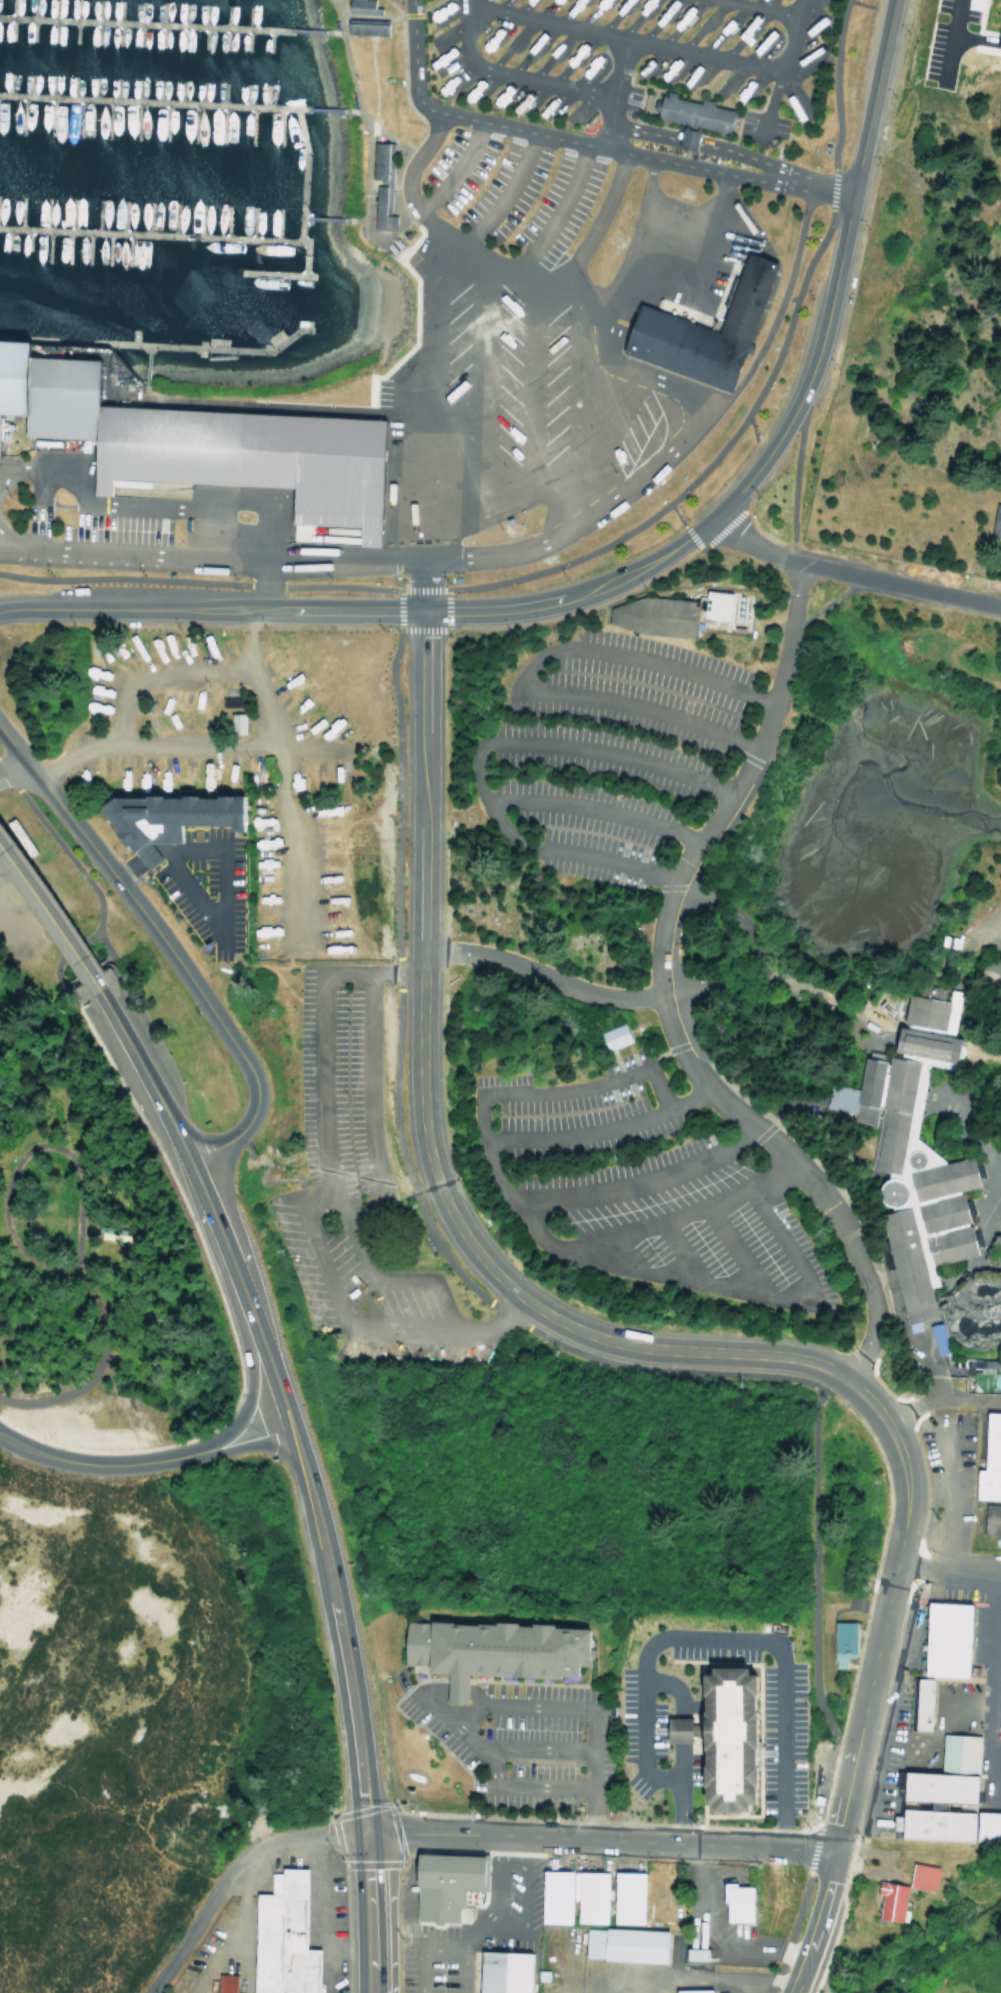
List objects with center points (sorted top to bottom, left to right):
parking lot: (408, 5)
building: (357, 6)
road: (757, 7)
road: (540, 22)
pier: (142, 23)
building: (362, 26)
building: (996, 30)
road: (311, 31)
road: (990, 32)
road: (946, 38)
parking lot: (942, 43)
road: (707, 56)
road: (508, 73)
road: (352, 91)
pier: (146, 100)
road: (324, 109)
building: (688, 114)
road: (611, 123)
road: (642, 129)
building: (682, 138)
road: (581, 142)
road: (738, 153)
road: (455, 169)
building: (378, 183)
road: (504, 192)
road: (418, 208)
road: (553, 213)
road: (330, 219)
road: (362, 230)
pier: (215, 236)
road: (638, 238)
pier: (304, 253)
road: (703, 258)
road: (565, 272)
pier: (274, 274)
building: (749, 297)
pier: (131, 337)
road: (427, 342)
pier: (205, 346)
building: (685, 348)
parking lot: (500, 359)
road: (477, 361)
road: (143, 371)
building: (9, 373)
road: (531, 382)
road: (602, 392)
building: (54, 396)
road: (278, 407)
building: (157, 447)
building: (259, 450)
road: (493, 462)
road: (40, 471)
road: (5, 473)
building: (333, 474)
building: (996, 520)
road: (611, 541)
road: (5, 544)
road: (488, 554)
road: (638, 568)
road: (851, 574)
road: (264, 585)
building: (713, 605)
road: (530, 667)
road: (269, 716)
building: (232, 722)
road: (179, 736)
road: (11, 746)
road: (478, 752)
parking lot: (607, 755)
road: (11, 768)
road: (29, 769)
parking lot: (630, 773)
road: (592, 808)
building: (161, 817)
road: (59, 844)
road: (696, 874)
road: (53, 902)
road: (51, 916)
road: (144, 916)
road: (218, 919)
road: (45, 925)
road: (734, 929)
road: (90, 935)
road: (71, 947)
road: (102, 957)
road: (970, 962)
road: (84, 968)
road: (54, 969)
road: (540, 972)
road: (111, 978)
road: (66, 980)
road: (787, 981)
road: (81, 996)
road: (659, 997)
road: (863, 1023)
road: (35, 1026)
building: (610, 1037)
road: (881, 1038)
road: (155, 1041)
road: (560, 1090)
road: (936, 1099)
road: (368, 1106)
road: (940, 1110)
road: (961, 1123)
road: (247, 1124)
road: (424, 1141)
road: (26, 1153)
building: (920, 1155)
road: (989, 1170)
road: (828, 1174)
parking lot: (639, 1180)
road: (993, 1183)
parking lot: (353, 1184)
road: (637, 1185)
road: (312, 1196)
road: (982, 1201)
road: (204, 1203)
road: (659, 1225)
road: (986, 1233)
road: (989, 1243)
road: (736, 1249)
road: (683, 1252)
road: (592, 1256)
road: (381, 1279)
road: (221, 1303)
building: (936, 1338)
road: (108, 1371)
road: (93, 1376)
road: (939, 1394)
road: (867, 1399)
road: (268, 1429)
building: (988, 1458)
road: (124, 1463)
road: (299, 1464)
road: (954, 1483)
building: (990, 1520)
road: (948, 1572)
road: (879, 1635)
road: (729, 1637)
building: (942, 1640)
building: (839, 1643)
building: (499, 1650)
road: (995, 1689)
building: (919, 1704)
road: (496, 1705)
road: (436, 1707)
building: (729, 1736)
road: (355, 1747)
road: (533, 1747)
road: (676, 1748)
building: (943, 1774)
road: (599, 1839)
road: (228, 1868)
building: (919, 1877)
building: (438, 1884)
road: (387, 1894)
building: (550, 1897)
building: (587, 1897)
building: (626, 1897)
building: (889, 1902)
building: (734, 1905)
road: (320, 1912)
road: (696, 1913)
road: (247, 1921)
road: (818, 1923)
road: (471, 1932)
building: (280, 1936)
building: (624, 1944)
building: (690, 1953)
road: (212, 1955)
road: (460, 1971)
building: (498, 1971)
road: (705, 1974)
road: (814, 1974)
building: (222, 1984)
building: (691, 1991)

